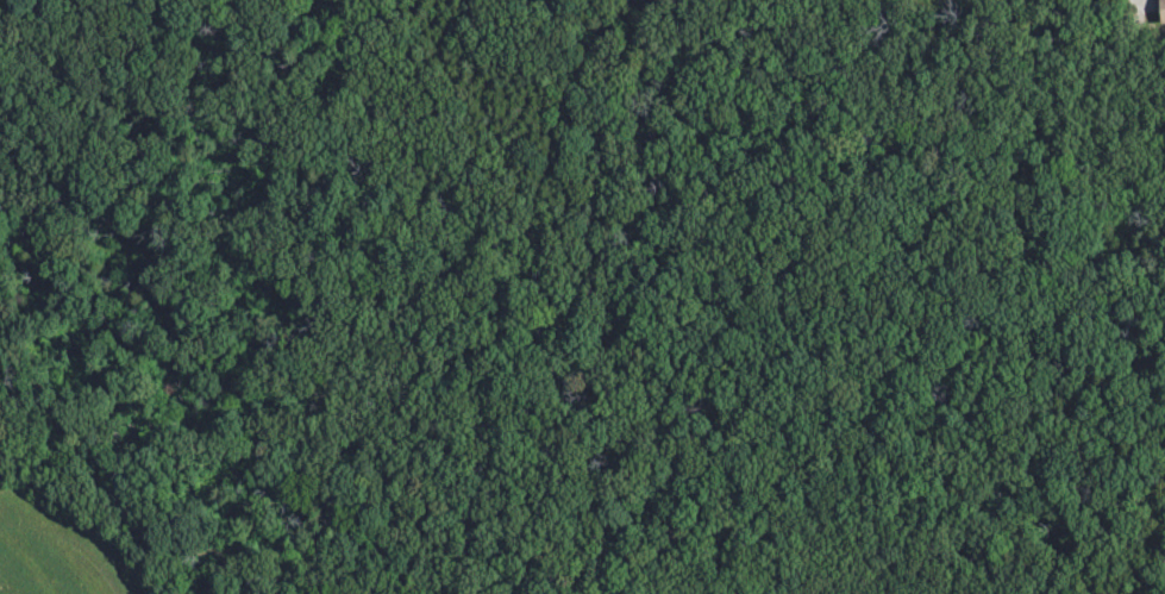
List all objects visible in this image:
building: (1160, 12)

